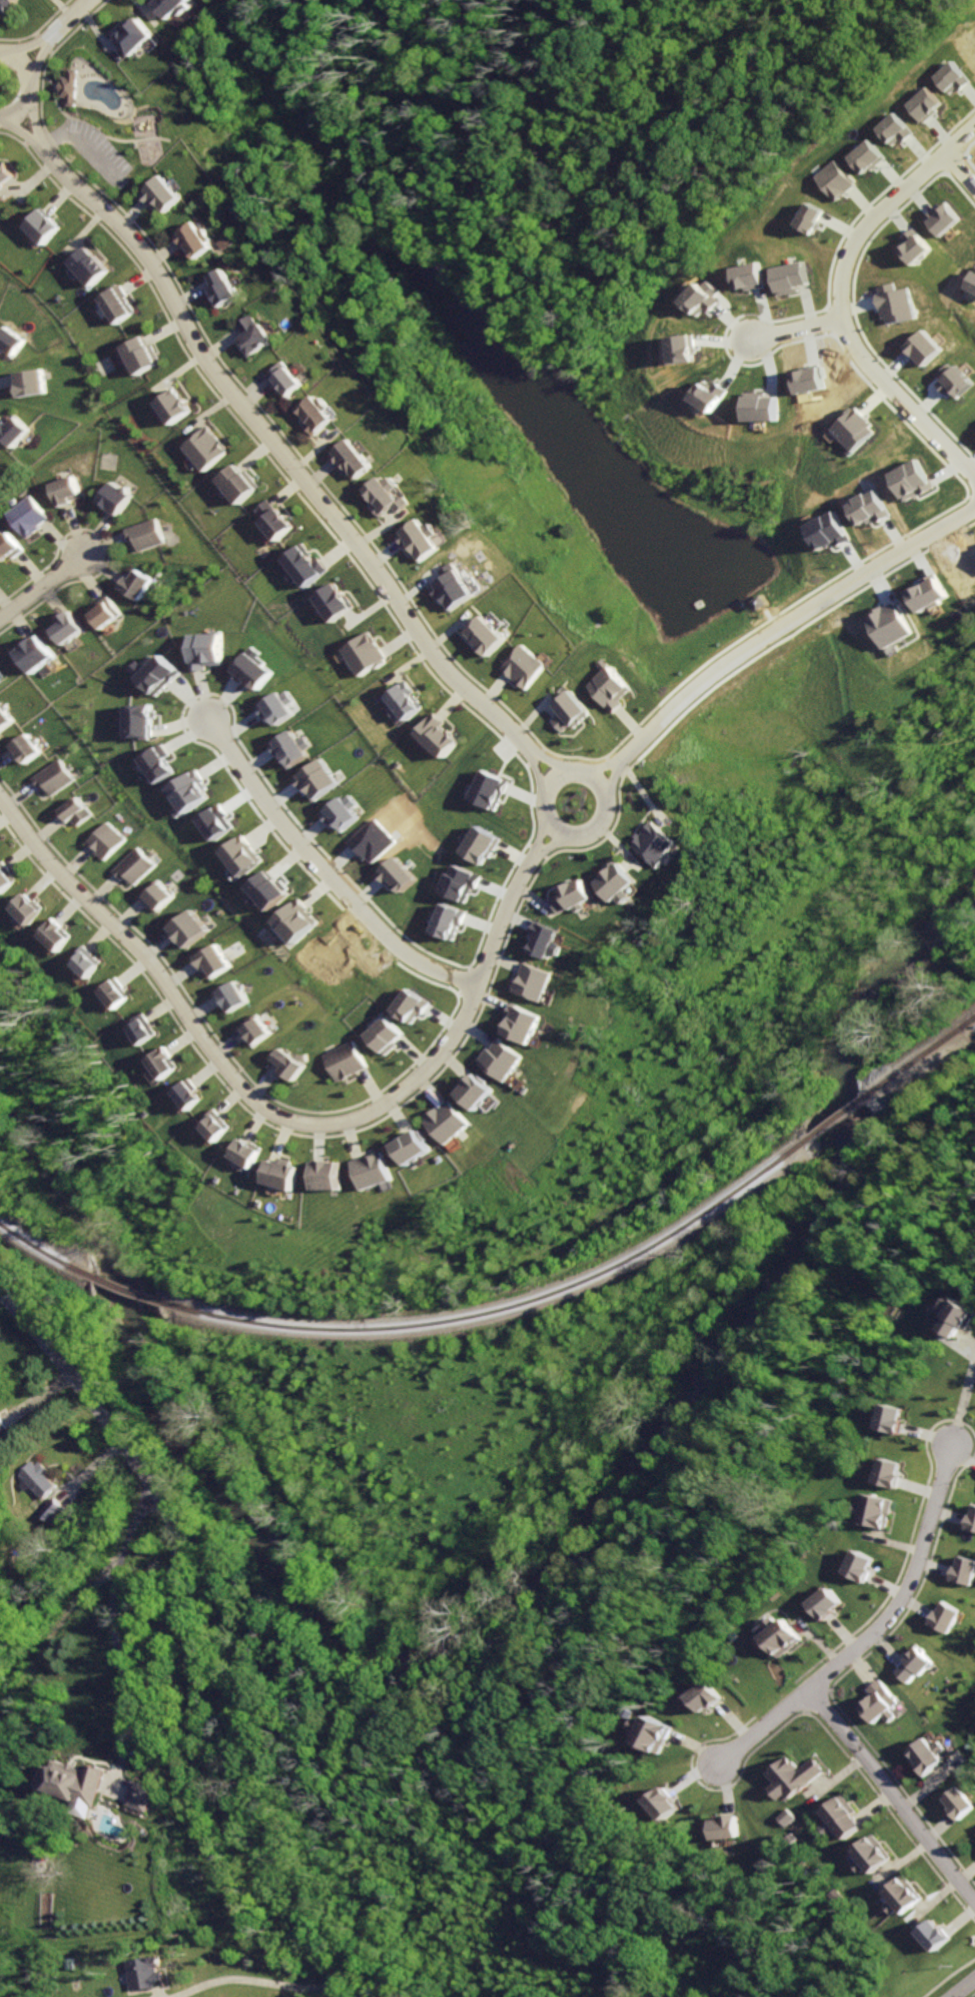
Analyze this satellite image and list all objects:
building: (7, 6)
building: (174, 7)
road: (63, 17)
building: (135, 36)
road: (22, 44)
road: (32, 56)
building: (951, 77)
road: (23, 84)
building: (67, 88)
road: (25, 115)
road: (15, 129)
building: (892, 129)
parking lot: (89, 149)
building: (863, 157)
road: (960, 169)
building: (3, 173)
building: (831, 180)
building: (166, 194)
building: (941, 217)
building: (807, 218)
building: (39, 226)
building: (197, 240)
building: (913, 246)
building: (86, 267)
building: (744, 276)
building: (786, 277)
building: (225, 288)
building: (697, 297)
road: (837, 301)
building: (891, 303)
building: (113, 305)
road: (792, 328)
building: (256, 336)
building: (8, 342)
building: (682, 348)
building: (918, 348)
building: (139, 355)
building: (285, 379)
building: (948, 380)
building: (27, 382)
building: (710, 395)
building: (172, 406)
building: (760, 408)
building: (316, 417)
building: (851, 429)
building: (12, 431)
building: (202, 449)
road: (277, 450)
building: (351, 455)
building: (905, 479)
building: (234, 484)
building: (61, 491)
building: (382, 491)
building: (110, 499)
building: (23, 517)
building: (271, 521)
building: (824, 530)
building: (139, 534)
building: (418, 537)
building: (7, 547)
building: (299, 565)
building: (448, 581)
road: (38, 583)
building: (132, 584)
building: (924, 593)
building: (329, 601)
building: (101, 614)
road: (786, 623)
building: (886, 625)
building: (481, 626)
building: (65, 627)
building: (357, 645)
building: (200, 650)
building: (36, 654)
building: (524, 666)
building: (246, 669)
building: (156, 674)
building: (613, 687)
building: (395, 693)
building: (271, 707)
building: (572, 711)
building: (6, 719)
building: (137, 721)
building: (428, 727)
parking lot: (504, 746)
building: (286, 748)
building: (26, 749)
road: (540, 749)
road: (509, 751)
road: (532, 756)
road: (573, 756)
road: (506, 758)
road: (607, 758)
road: (546, 763)
building: (156, 764)
road: (524, 764)
road: (615, 766)
road: (597, 769)
road: (560, 772)
road: (622, 774)
road: (535, 775)
building: (55, 779)
road: (508, 779)
road: (609, 779)
building: (313, 780)
building: (484, 788)
building: (188, 792)
road: (519, 795)
road: (526, 804)
building: (76, 812)
building: (337, 812)
building: (215, 822)
building: (650, 835)
road: (539, 836)
road: (605, 837)
building: (107, 841)
road: (547, 843)
building: (473, 844)
road: (525, 845)
road: (533, 850)
building: (241, 855)
road: (541, 856)
building: (136, 866)
road: (321, 872)
building: (393, 873)
building: (608, 876)
building: (6, 877)
building: (457, 882)
building: (565, 887)
building: (268, 891)
building: (160, 896)
building: (24, 902)
building: (295, 920)
building: (189, 921)
building: (445, 921)
building: (59, 935)
building: (545, 940)
building: (214, 954)
building: (88, 962)
building: (526, 974)
building: (117, 994)
building: (237, 998)
building: (406, 1006)
building: (514, 1016)
building: (378, 1028)
building: (143, 1030)
building: (258, 1031)
building: (492, 1053)
building: (345, 1062)
railway: (921, 1062)
building: (163, 1064)
building: (292, 1066)
building: (466, 1085)
building: (188, 1095)
road: (270, 1111)
building: (440, 1117)
railway: (841, 1121)
building: (216, 1127)
building: (407, 1139)
building: (243, 1147)
building: (370, 1163)
building: (324, 1166)
building: (277, 1168)
railway: (43, 1251)
railway: (123, 1290)
railway: (507, 1309)
building: (959, 1317)
road: (968, 1341)
road: (964, 1408)
building: (892, 1411)
building: (3, 1426)
building: (892, 1468)
building: (38, 1478)
building: (53, 1510)
building: (880, 1513)
building: (973, 1517)
building: (862, 1558)
building: (966, 1563)
building: (826, 1596)
building: (950, 1610)
road: (120, 1632)
road: (193, 1635)
road: (875, 1635)
building: (788, 1639)
building: (918, 1665)
building: (705, 1688)
building: (881, 1703)
building: (656, 1735)
building: (930, 1758)
building: (793, 1779)
building: (75, 1782)
road: (892, 1794)
building: (146, 1795)
building: (963, 1796)
building: (659, 1797)
building: (785, 1817)
building: (723, 1819)
building: (842, 1819)
building: (870, 1858)
building: (903, 1898)
building: (930, 1928)
building: (150, 1973)
road: (257, 1980)
road: (964, 1987)

